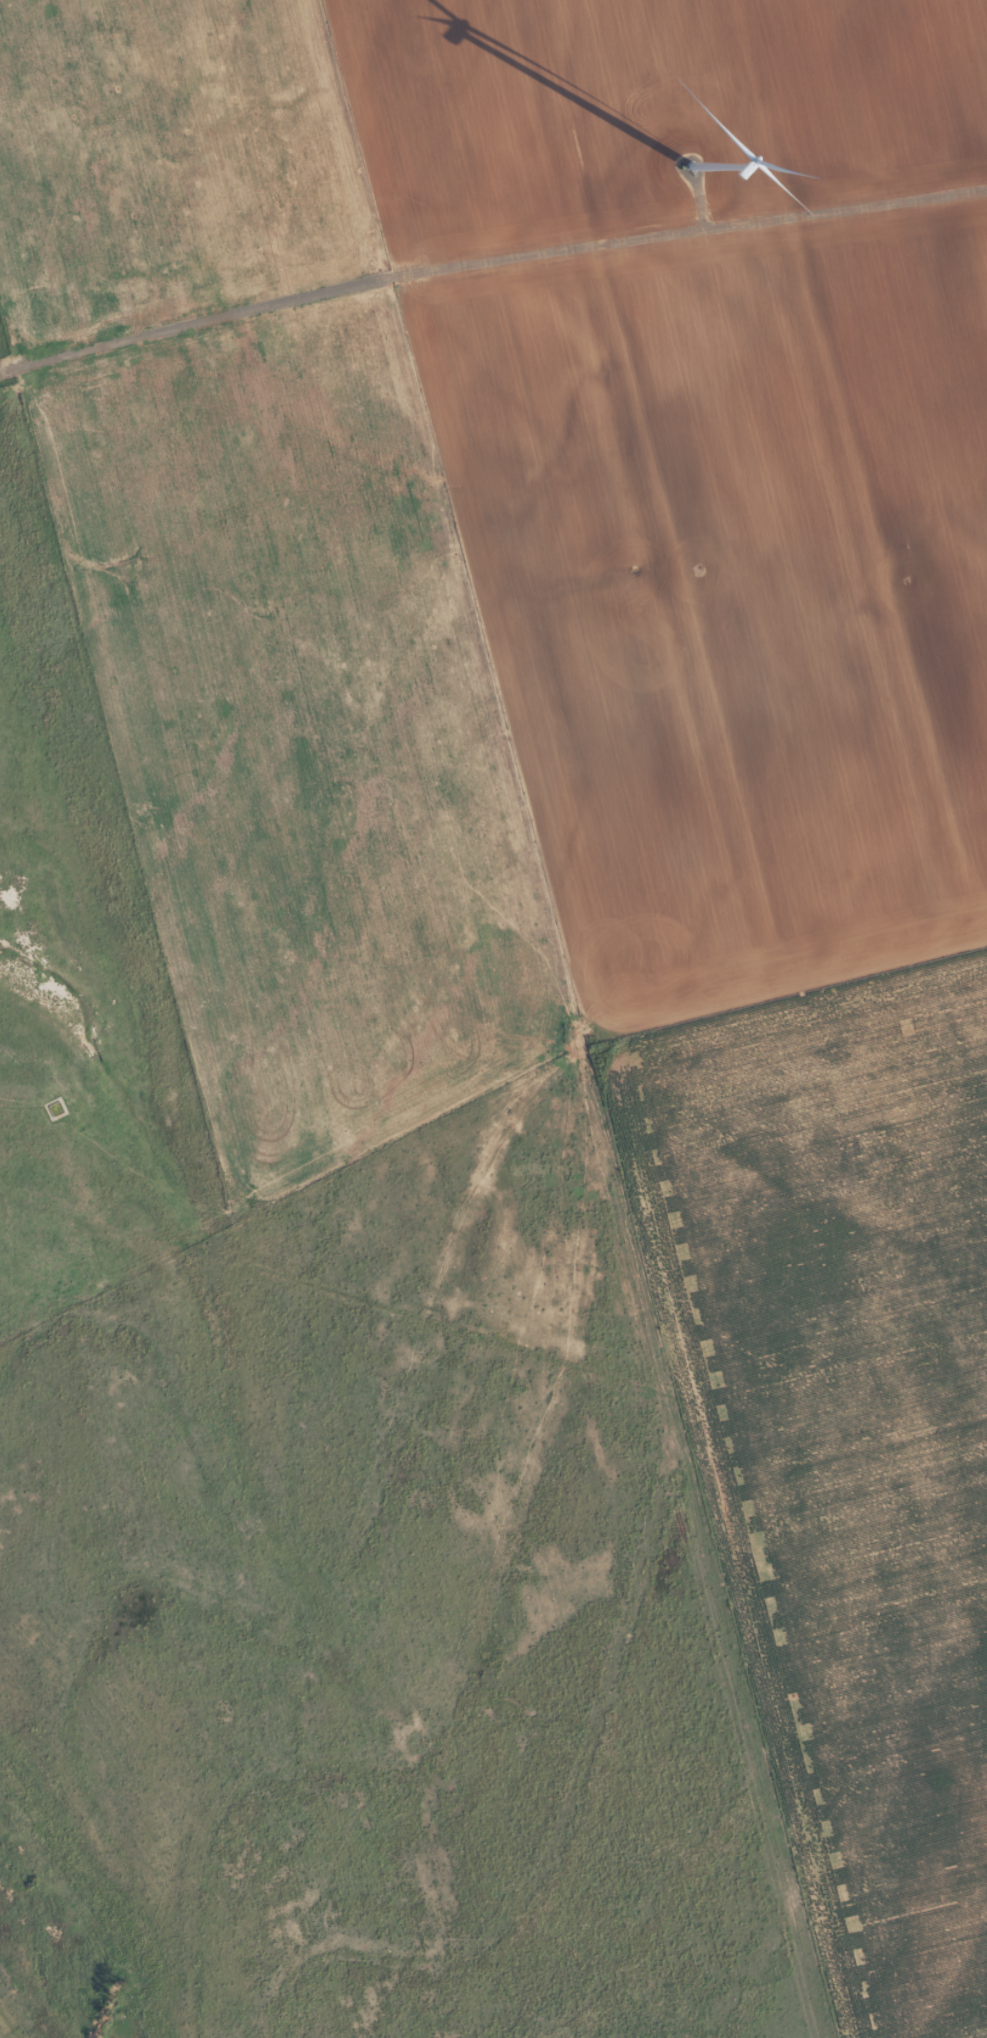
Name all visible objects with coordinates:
wind turbine: (689, 170)

